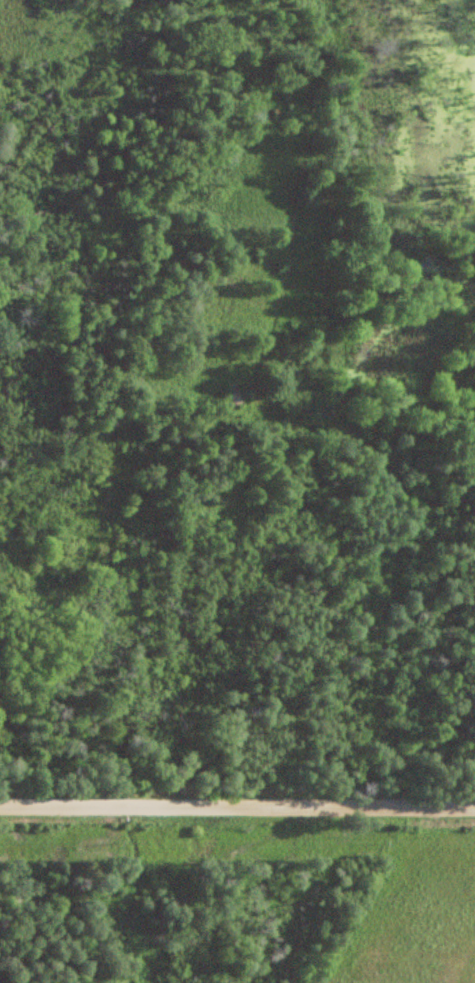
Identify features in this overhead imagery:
road: (237, 779)

